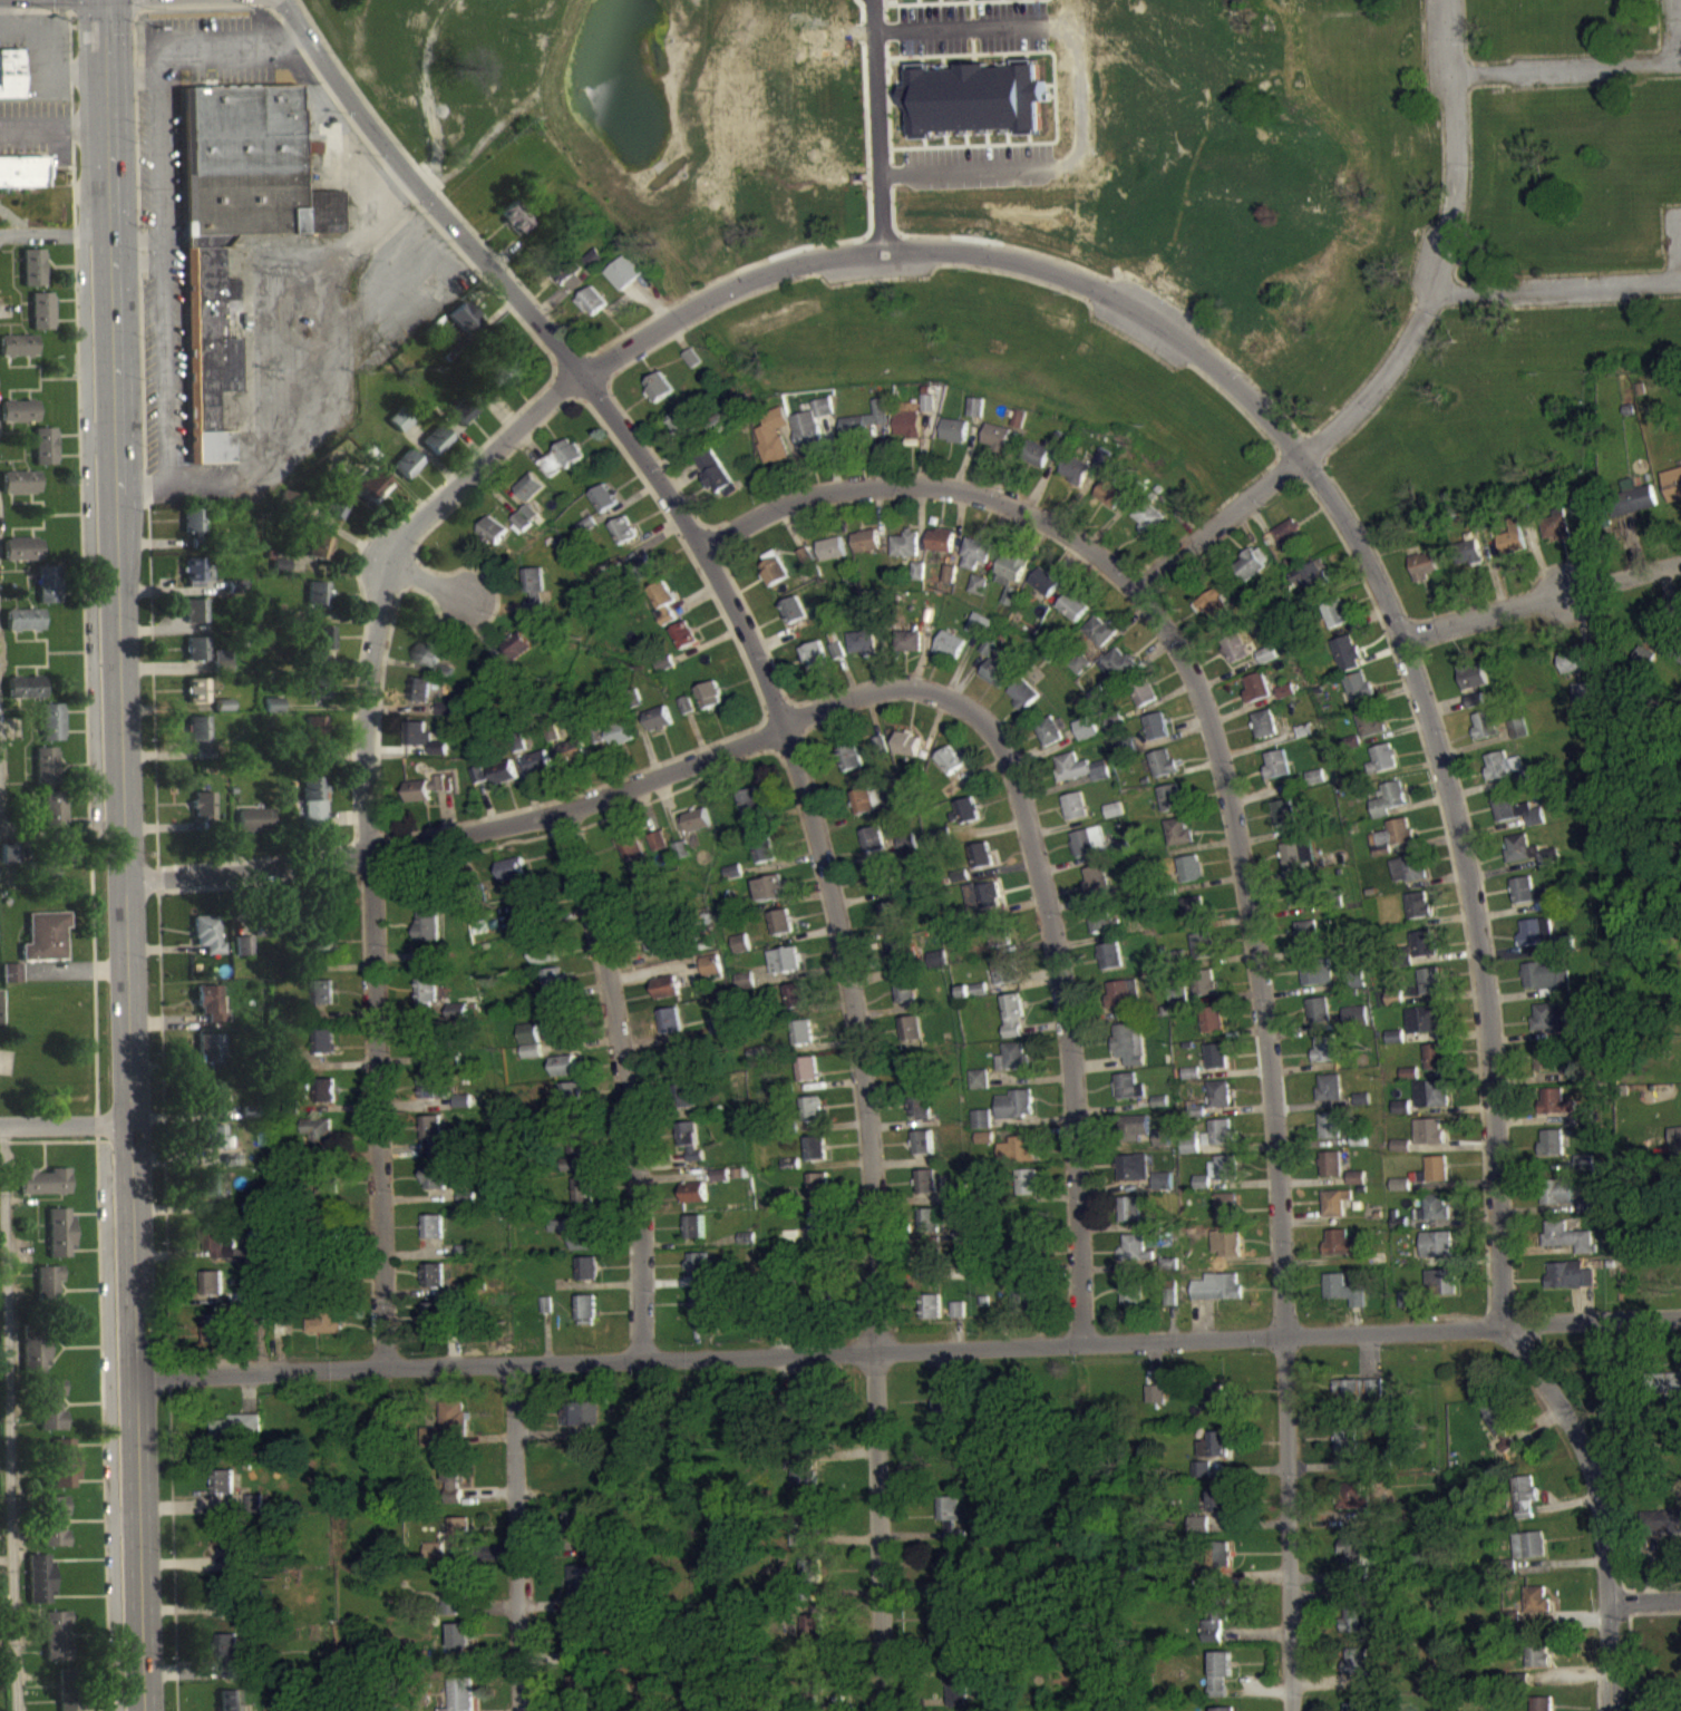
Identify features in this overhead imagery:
building: (935, 1)
road: (954, 25)
road: (204, 39)
road: (1567, 65)
road: (133, 77)
building: (10, 82)
building: (974, 109)
road: (875, 132)
road: (960, 169)
road: (162, 176)
building: (22, 181)
building: (514, 227)
road: (55, 232)
building: (235, 235)
road: (137, 250)
building: (32, 276)
building: (624, 282)
building: (566, 285)
road: (1557, 285)
building: (592, 311)
building: (41, 320)
building: (459, 329)
road: (1399, 350)
building: (17, 354)
road: (164, 358)
building: (504, 379)
building: (659, 397)
building: (929, 412)
building: (976, 417)
building: (18, 420)
building: (461, 420)
building: (1019, 428)
building: (399, 429)
building: (910, 429)
building: (865, 431)
building: (813, 435)
building: (681, 436)
building: (955, 440)
building: (998, 446)
building: (774, 447)
building: (434, 449)
building: (45, 455)
building: (1037, 464)
building: (561, 468)
building: (405, 474)
building: (1076, 479)
building: (716, 483)
road: (925, 485)
road: (149, 487)
building: (19, 492)
building: (1672, 493)
building: (529, 497)
building: (371, 498)
building: (1111, 502)
building: (1633, 507)
building: (603, 508)
building: (339, 517)
building: (1148, 526)
building: (524, 528)
building: (192, 529)
building: (1289, 533)
building: (1555, 534)
building: (492, 539)
building: (623, 541)
building: (1513, 548)
building: (941, 550)
building: (867, 551)
building: (906, 554)
building: (318, 557)
building: (21, 558)
building: (833, 558)
building: (1253, 561)
building: (976, 563)
building: (1469, 563)
building: (805, 566)
building: (1252, 573)
building: (1310, 575)
building: (1425, 575)
building: (645, 576)
road: (426, 579)
building: (1012, 579)
building: (193, 581)
building: (775, 581)
building: (920, 581)
building: (951, 583)
building: (1312, 586)
building: (1046, 592)
building: (47, 593)
building: (979, 594)
building: (534, 596)
road: (1543, 601)
building: (315, 603)
building: (1334, 611)
building: (663, 612)
building: (1216, 613)
building: (1073, 616)
building: (193, 620)
building: (794, 620)
building: (1334, 624)
building: (22, 629)
road: (1401, 632)
building: (980, 633)
building: (1100, 641)
building: (683, 645)
building: (864, 650)
building: (1347, 650)
building: (910, 651)
building: (318, 654)
building: (951, 654)
building: (1671, 654)
building: (195, 658)
building: (1236, 659)
building: (838, 660)
building: (513, 661)
building: (427, 663)
building: (815, 665)
building: (1645, 668)
building: (1572, 669)
building: (995, 672)
building: (1120, 673)
building: (1359, 683)
building: (1473, 684)
building: (318, 696)
building: (1359, 696)
building: (25, 697)
building: (1257, 697)
building: (195, 700)
building: (419, 700)
building: (1145, 701)
building: (1286, 701)
building: (1583, 702)
building: (1023, 703)
building: (709, 704)
building: (1475, 708)
building: (271, 713)
building: (687, 714)
building: (1369, 719)
building: (658, 729)
building: (51, 731)
building: (1370, 732)
building: (1265, 733)
building: (1485, 735)
building: (1157, 737)
building: (1088, 738)
building: (1052, 740)
building: (196, 743)
building: (620, 745)
building: (422, 748)
building: (1352, 751)
building: (881, 754)
building: (908, 754)
building: (1381, 756)
building: (572, 761)
building: (852, 767)
building: (1382, 769)
building: (951, 770)
building: (538, 772)
building: (1164, 774)
building: (1500, 774)
building: (45, 775)
building: (1277, 775)
road: (799, 778)
building: (1080, 778)
building: (495, 782)
building: (1315, 787)
building: (1389, 796)
building: (425, 798)
building: (1172, 808)
building: (1389, 809)
building: (864, 810)
building: (311, 811)
building: (750, 813)
building: (201, 814)
building: (1076, 816)
building: (54, 819)
building: (1115, 819)
building: (1516, 819)
building: (966, 820)
building: (1285, 823)
road: (367, 827)
building: (252, 829)
building: (694, 830)
road: (460, 834)
building: (1390, 835)
building: (1179, 842)
building: (658, 850)
building: (1089, 852)
building: (887, 853)
road: (123, 855)
building: (682, 861)
building: (1531, 862)
building: (8, 863)
building: (1408, 864)
building: (766, 865)
building: (983, 865)
building: (1298, 865)
building: (637, 868)
building: (49, 873)
building: (1408, 877)
building: (1191, 878)
building: (511, 881)
building: (884, 887)
building: (1098, 889)
building: (770, 898)
building: (1526, 901)
building: (1418, 902)
building: (1299, 903)
building: (984, 905)
building: (1418, 915)
road: (1050, 917)
building: (1193, 918)
building: (893, 924)
building: (1104, 927)
building: (781, 932)
building: (427, 934)
building: (1536, 941)
building: (1306, 943)
building: (205, 944)
building: (1420, 944)
building: (43, 946)
building: (1001, 949)
building: (661, 952)
building: (324, 954)
building: (1203, 955)
building: (541, 963)
building: (900, 963)
building: (1110, 965)
building: (785, 970)
building: (711, 975)
building: (1429, 978)
building: (1004, 981)
building: (10, 982)
building: (1316, 982)
building: (1546, 986)
building: (1429, 990)
building: (746, 991)
building: (551, 993)
building: (1207, 993)
building: (665, 997)
building: (906, 1000)
building: (974, 1000)
building: (323, 1002)
building: (1124, 1003)
building: (427, 1004)
building: (796, 1005)
building: (1396, 1007)
building: (207, 1014)
building: (1422, 1017)
building: (1319, 1020)
building: (460, 1021)
building: (1356, 1024)
building: (1013, 1025)
building: (1549, 1028)
building: (1212, 1029)
building: (1425, 1030)
building: (912, 1041)
building: (803, 1042)
building: (527, 1043)
building: (1396, 1047)
building: (323, 1050)
building: (1130, 1053)
building: (1435, 1053)
building: (213, 1059)
building: (1327, 1059)
building: (531, 1060)
building: (1216, 1066)
building: (1013, 1067)
building: (1546, 1068)
building: (563, 1075)
building: (808, 1078)
building: (916, 1079)
road: (625, 1081)
building: (980, 1089)
building: (1431, 1089)
building: (1128, 1096)
building: (1329, 1097)
building: (324, 1100)
building: (420, 1100)
building: (436, 1100)
building: (565, 1104)
building: (1218, 1104)
building: (1431, 1104)
building: (686, 1106)
building: (210, 1107)
building: (1556, 1111)
building: (1016, 1114)
building: (922, 1116)
building: (1401, 1117)
building: (813, 1118)
road: (64, 1125)
building: (1586, 1127)
building: (1430, 1128)
building: (982, 1129)
road: (1271, 1134)
building: (1330, 1135)
building: (1135, 1137)
building: (1428, 1140)
building: (317, 1141)
building: (1221, 1141)
building: (220, 1144)
building: (434, 1144)
building: (1163, 1148)
building: (1674, 1148)
building: (690, 1150)
building: (924, 1153)
building: (1552, 1153)
building: (1189, 1154)
building: (1402, 1155)
building: (816, 1158)
building: (1018, 1159)
building: (1434, 1167)
building: (577, 1174)
building: (1331, 1174)
building: (1133, 1177)
building: (1435, 1179)
building: (1218, 1180)
building: (720, 1185)
building: (434, 1187)
building: (1357, 1187)
building: (43, 1190)
building: (1164, 1190)
building: (927, 1192)
building: (1028, 1192)
building: (1400, 1194)
building: (212, 1195)
building: (819, 1195)
building: (581, 1202)
building: (1558, 1202)
building: (694, 1203)
building: (960, 1205)
building: (1432, 1205)
building: (1335, 1213)
building: (1226, 1216)
building: (1588, 1216)
building: (1434, 1218)
building: (1130, 1219)
building: (930, 1229)
building: (1398, 1229)
building: (819, 1233)
building: (433, 1236)
building: (555, 1236)
building: (694, 1236)
building: (58, 1242)
building: (1434, 1242)
building: (1568, 1247)
building: (583, 1252)
building: (216, 1253)
building: (1341, 1253)
building: (1436, 1254)
building: (1230, 1256)
building: (1136, 1260)
building: (931, 1267)
building: (699, 1274)
building: (1169, 1274)
building: (586, 1279)
building: (1440, 1280)
building: (1570, 1285)
building: (430, 1286)
building: (1440, 1292)
building: (212, 1293)
building: (47, 1297)
building: (1214, 1297)
building: (1343, 1300)
building: (1131, 1302)
building: (1405, 1309)
building: (932, 1316)
building: (703, 1318)
building: (959, 1319)
building: (585, 1320)
building: (434, 1328)
building: (217, 1333)
building: (323, 1333)
road: (907, 1351)
building: (33, 1364)
building: (1679, 1390)
building: (1359, 1400)
building: (1156, 1403)
building: (1217, 1409)
building: (50, 1415)
building: (946, 1416)
road: (9, 1418)
building: (570, 1425)
building: (587, 1426)
building: (1498, 1430)
building: (232, 1435)
building: (447, 1435)
building: (1345, 1451)
building: (1215, 1455)
building: (64, 1472)
building: (805, 1478)
building: (1202, 1478)
building: (221, 1491)
building: (450, 1499)
building: (1350, 1506)
building: (1525, 1506)
building: (951, 1527)
building: (54, 1530)
building: (1668, 1533)
road: (519, 1537)
building: (449, 1545)
building: (1528, 1555)
building: (223, 1564)
building: (950, 1573)
building: (1215, 1573)
building: (1505, 1577)
building: (812, 1579)
building: (39, 1590)
building: (581, 1590)
building: (223, 1597)
road: (1644, 1600)
building: (448, 1601)
building: (1536, 1610)
building: (0, 1611)
building: (571, 1618)
building: (953, 1630)
building: (1354, 1630)
building: (1214, 1633)
building: (813, 1644)
building: (56, 1645)
building: (460, 1649)
road: (1610, 1655)
building: (1537, 1665)
building: (227, 1666)
building: (1361, 1680)
building: (1221, 1682)
building: (956, 1690)
building: (67, 1694)
building: (460, 1699)
building: (229, 1705)
building: (1541, 1709)

